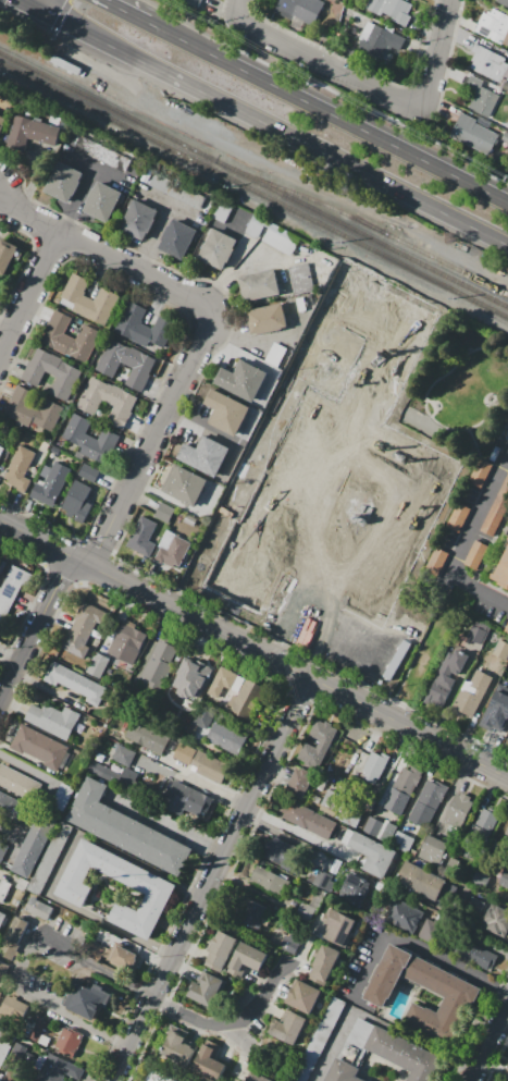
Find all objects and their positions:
building: (194, 2)
building: (503, 2)
road: (32, 3)
road: (40, 3)
road: (221, 8)
road: (235, 8)
building: (299, 9)
building: (336, 9)
building: (392, 10)
road: (126, 11)
road: (59, 16)
building: (494, 25)
building: (380, 39)
road: (437, 57)
road: (449, 58)
road: (329, 61)
building: (488, 63)
road: (364, 70)
road: (327, 88)
building: (480, 96)
road: (329, 111)
building: (2, 122)
road: (272, 127)
building: (32, 132)
building: (474, 134)
building: (505, 136)
building: (102, 152)
road: (95, 168)
road: (33, 176)
railway: (253, 180)
building: (63, 182)
railway: (253, 189)
building: (177, 191)
building: (101, 200)
road: (78, 201)
road: (169, 206)
building: (222, 210)
building: (138, 219)
railway: (364, 224)
building: (272, 234)
building: (176, 238)
road: (152, 239)
building: (218, 248)
building: (5, 255)
road: (235, 265)
building: (300, 278)
building: (259, 284)
road: (28, 293)
building: (75, 293)
building: (99, 306)
building: (267, 318)
building: (131, 321)
road: (5, 328)
road: (205, 328)
building: (157, 332)
building: (69, 336)
road: (248, 341)
road: (237, 353)
road: (507, 357)
building: (126, 363)
building: (51, 372)
road: (437, 377)
building: (241, 380)
park: (454, 386)
building: (108, 401)
road: (432, 405)
road: (491, 408)
building: (32, 409)
building: (225, 411)
road: (201, 426)
building: (90, 439)
road: (472, 439)
building: (1, 449)
building: (205, 454)
road: (490, 457)
building: (18, 468)
building: (88, 472)
building: (479, 472)
building: (50, 483)
building: (184, 484)
building: (77, 501)
road: (176, 502)
building: (496, 509)
building: (163, 512)
building: (457, 517)
building: (190, 520)
building: (141, 536)
building: (220, 539)
road: (461, 546)
building: (173, 551)
building: (475, 554)
building: (435, 560)
building: (247, 567)
building: (284, 569)
building: (501, 572)
building: (14, 581)
building: (4, 606)
building: (88, 616)
building: (506, 628)
road: (36, 631)
building: (340, 631)
building: (476, 631)
building: (76, 641)
building: (127, 642)
road: (418, 647)
road: (253, 648)
building: (363, 648)
building: (500, 649)
road: (11, 656)
building: (387, 661)
building: (159, 663)
building: (97, 664)
building: (191, 677)
building: (444, 677)
building: (224, 681)
building: (74, 683)
road: (455, 687)
road: (50, 691)
building: (471, 692)
building: (247, 699)
road: (483, 700)
building: (496, 708)
building: (53, 718)
building: (322, 733)
building: (146, 737)
building: (224, 737)
building: (507, 737)
building: (26, 739)
building: (51, 752)
building: (311, 754)
building: (123, 756)
road: (25, 757)
building: (100, 759)
road: (165, 761)
building: (199, 762)
building: (373, 766)
road: (27, 769)
building: (4, 774)
building: (112, 774)
road: (196, 779)
building: (406, 781)
building: (14, 783)
building: (298, 783)
building: (27, 788)
building: (433, 794)
building: (39, 795)
building: (63, 796)
building: (187, 800)
building: (3, 801)
building: (331, 802)
building: (395, 802)
building: (457, 810)
building: (13, 811)
building: (421, 813)
building: (307, 819)
road: (164, 823)
building: (372, 826)
building: (125, 830)
road: (10, 831)
road: (292, 831)
building: (507, 831)
building: (478, 832)
building: (386, 835)
road: (18, 837)
building: (401, 842)
building: (34, 845)
building: (3, 847)
building: (433, 849)
building: (370, 852)
building: (284, 855)
road: (61, 863)
road: (7, 875)
road: (207, 877)
building: (480, 879)
building: (504, 879)
building: (321, 880)
building: (270, 882)
building: (421, 882)
building: (3, 889)
building: (355, 890)
building: (72, 892)
building: (474, 906)
building: (38, 908)
building: (306, 912)
building: (250, 913)
building: (404, 914)
building: (2, 918)
building: (497, 919)
building: (15, 930)
building: (339, 930)
building: (431, 930)
building: (290, 941)
road: (481, 942)
road: (414, 947)
building: (8, 948)
building: (219, 950)
building: (474, 953)
building: (115, 954)
road: (24, 957)
building: (244, 959)
building: (323, 966)
building: (2, 969)
building: (207, 988)
building: (457, 993)
building: (303, 997)
building: (86, 1004)
road: (373, 1020)
road: (228, 1025)
road: (503, 1027)
building: (292, 1030)
building: (39, 1031)
road: (238, 1034)
road: (488, 1041)
building: (69, 1042)
building: (176, 1045)
building: (406, 1055)
building: (209, 1060)
building: (507, 1064)
building: (507, 1065)
road: (494, 1066)
building: (58, 1069)
building: (343, 1071)
building: (159, 1076)
building: (256, 1077)

